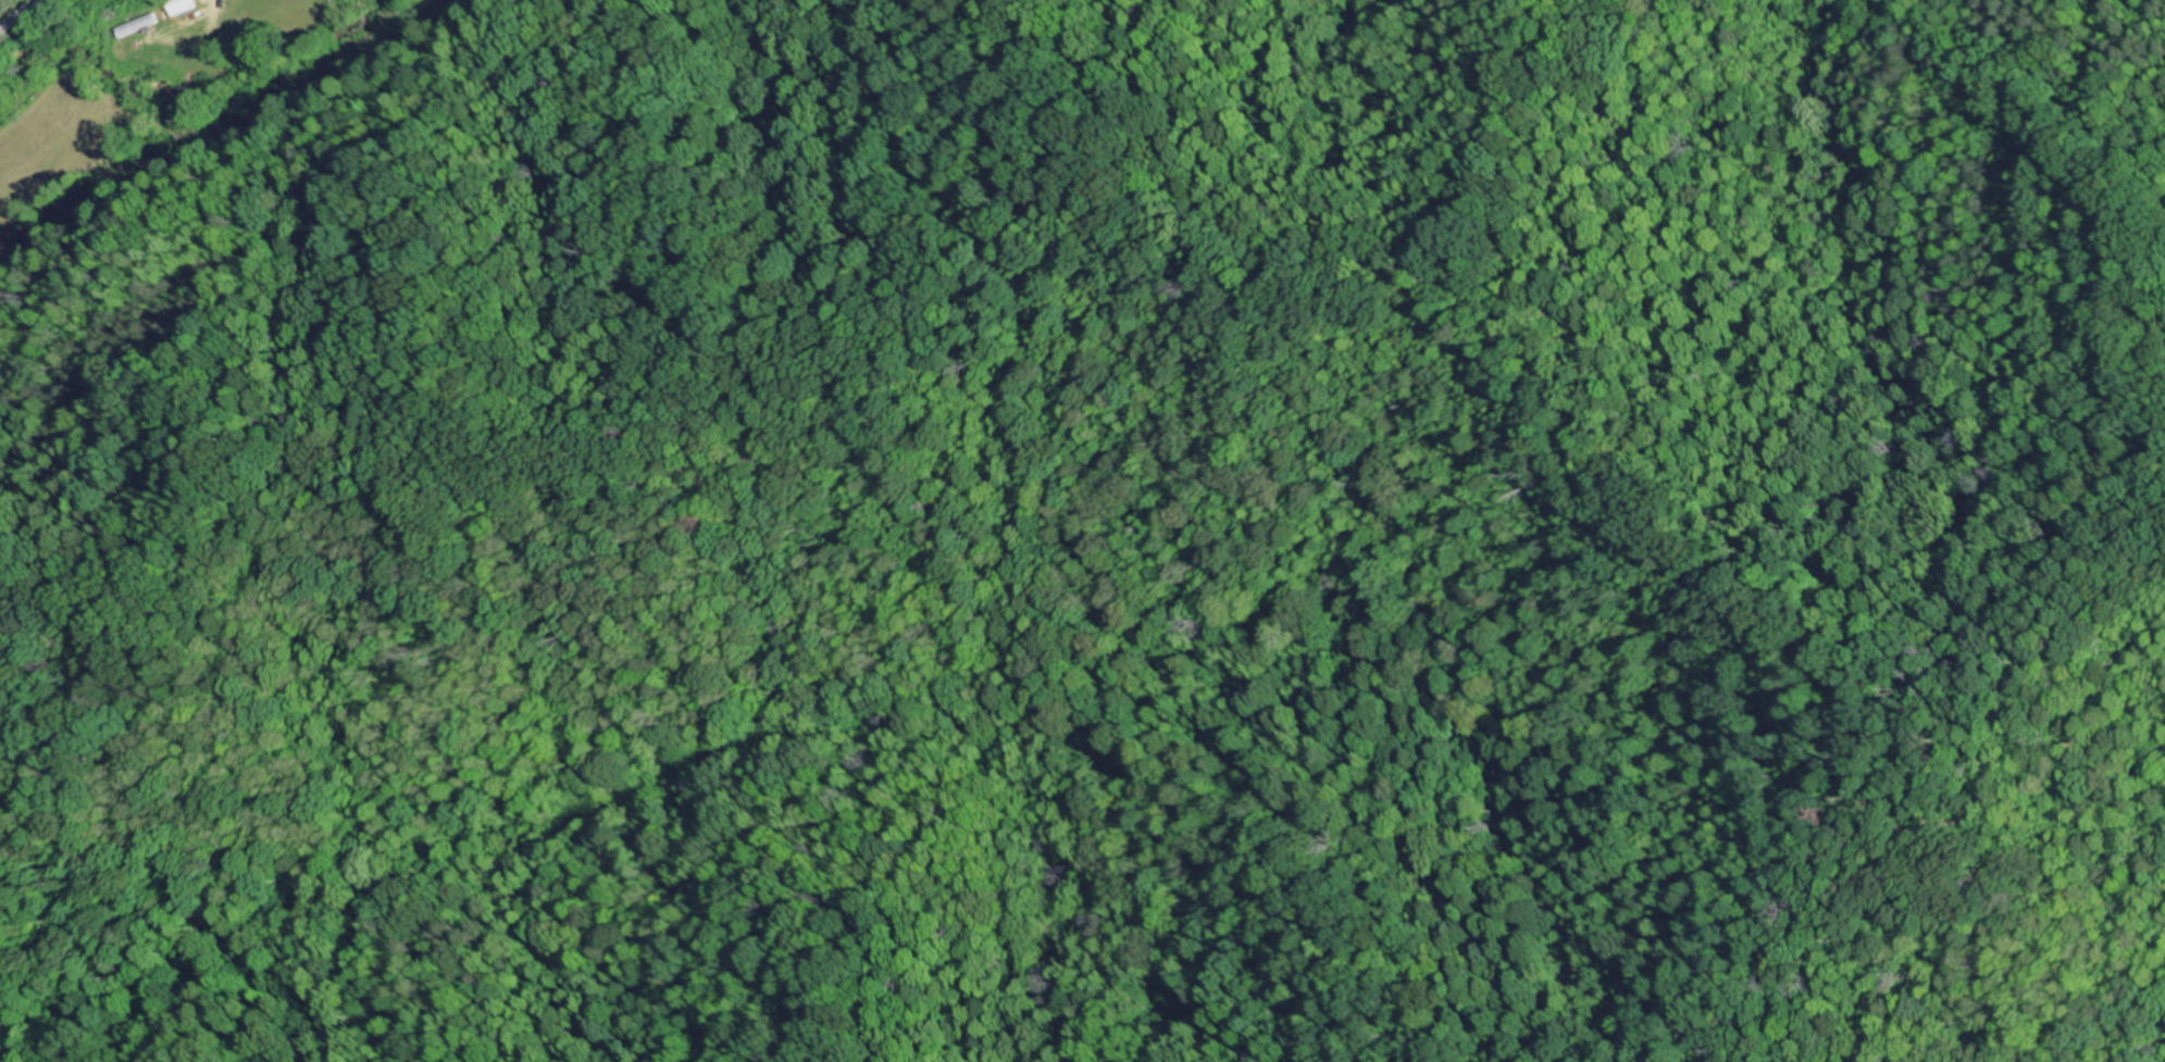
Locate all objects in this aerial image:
road: (21, 16)
building: (136, 26)

